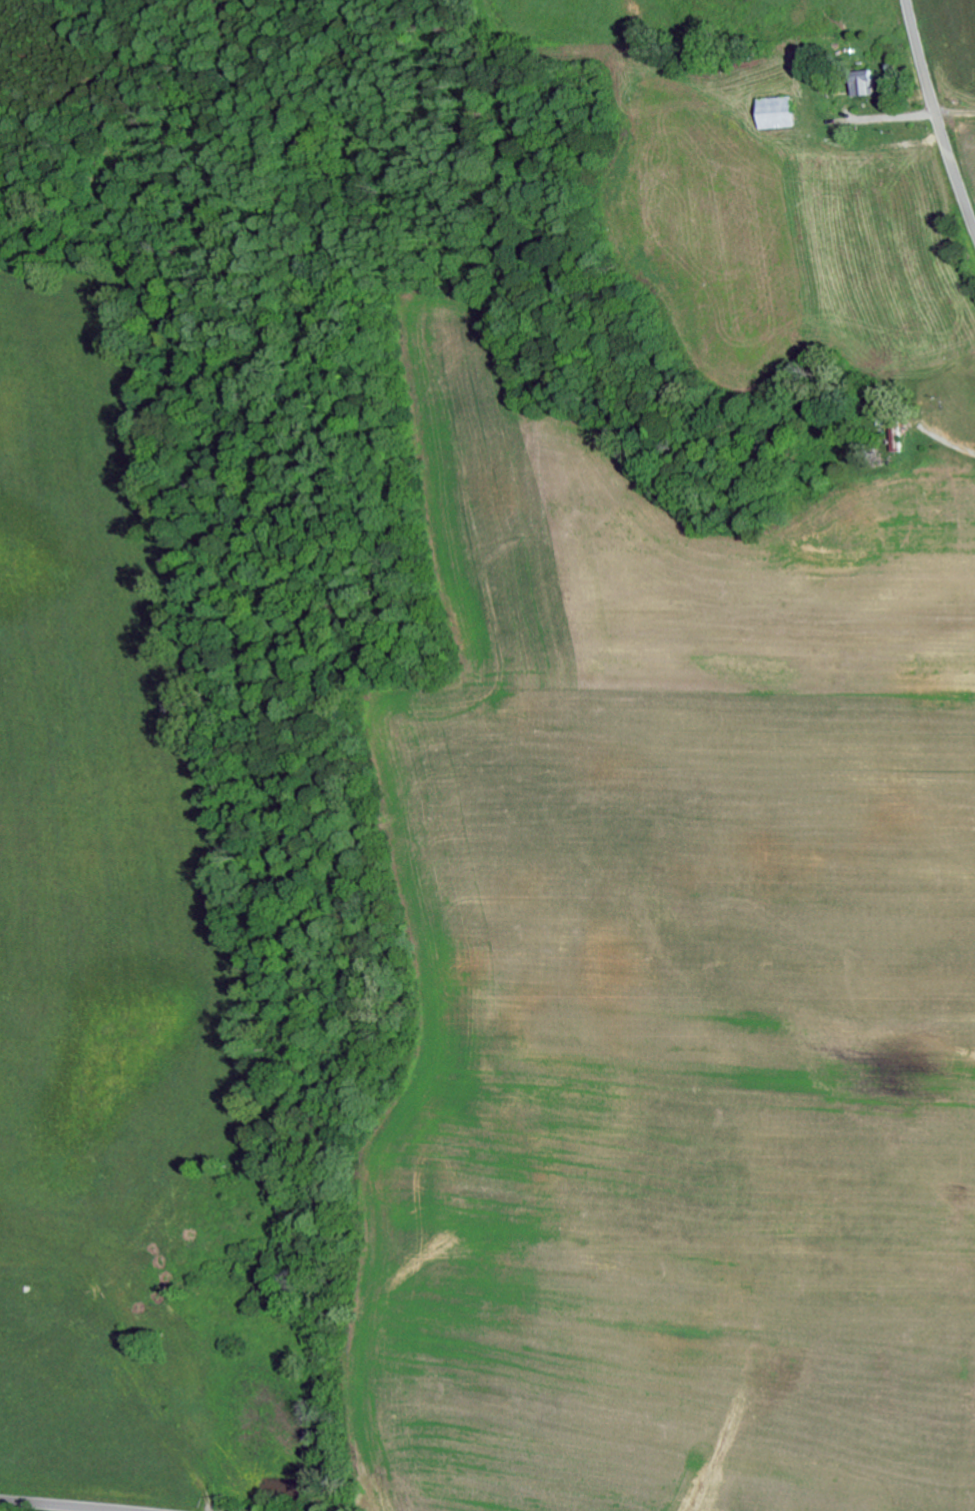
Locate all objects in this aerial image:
building: (866, 83)
road: (953, 99)
building: (779, 113)
road: (936, 115)
road: (818, 403)
road: (56, 1506)

